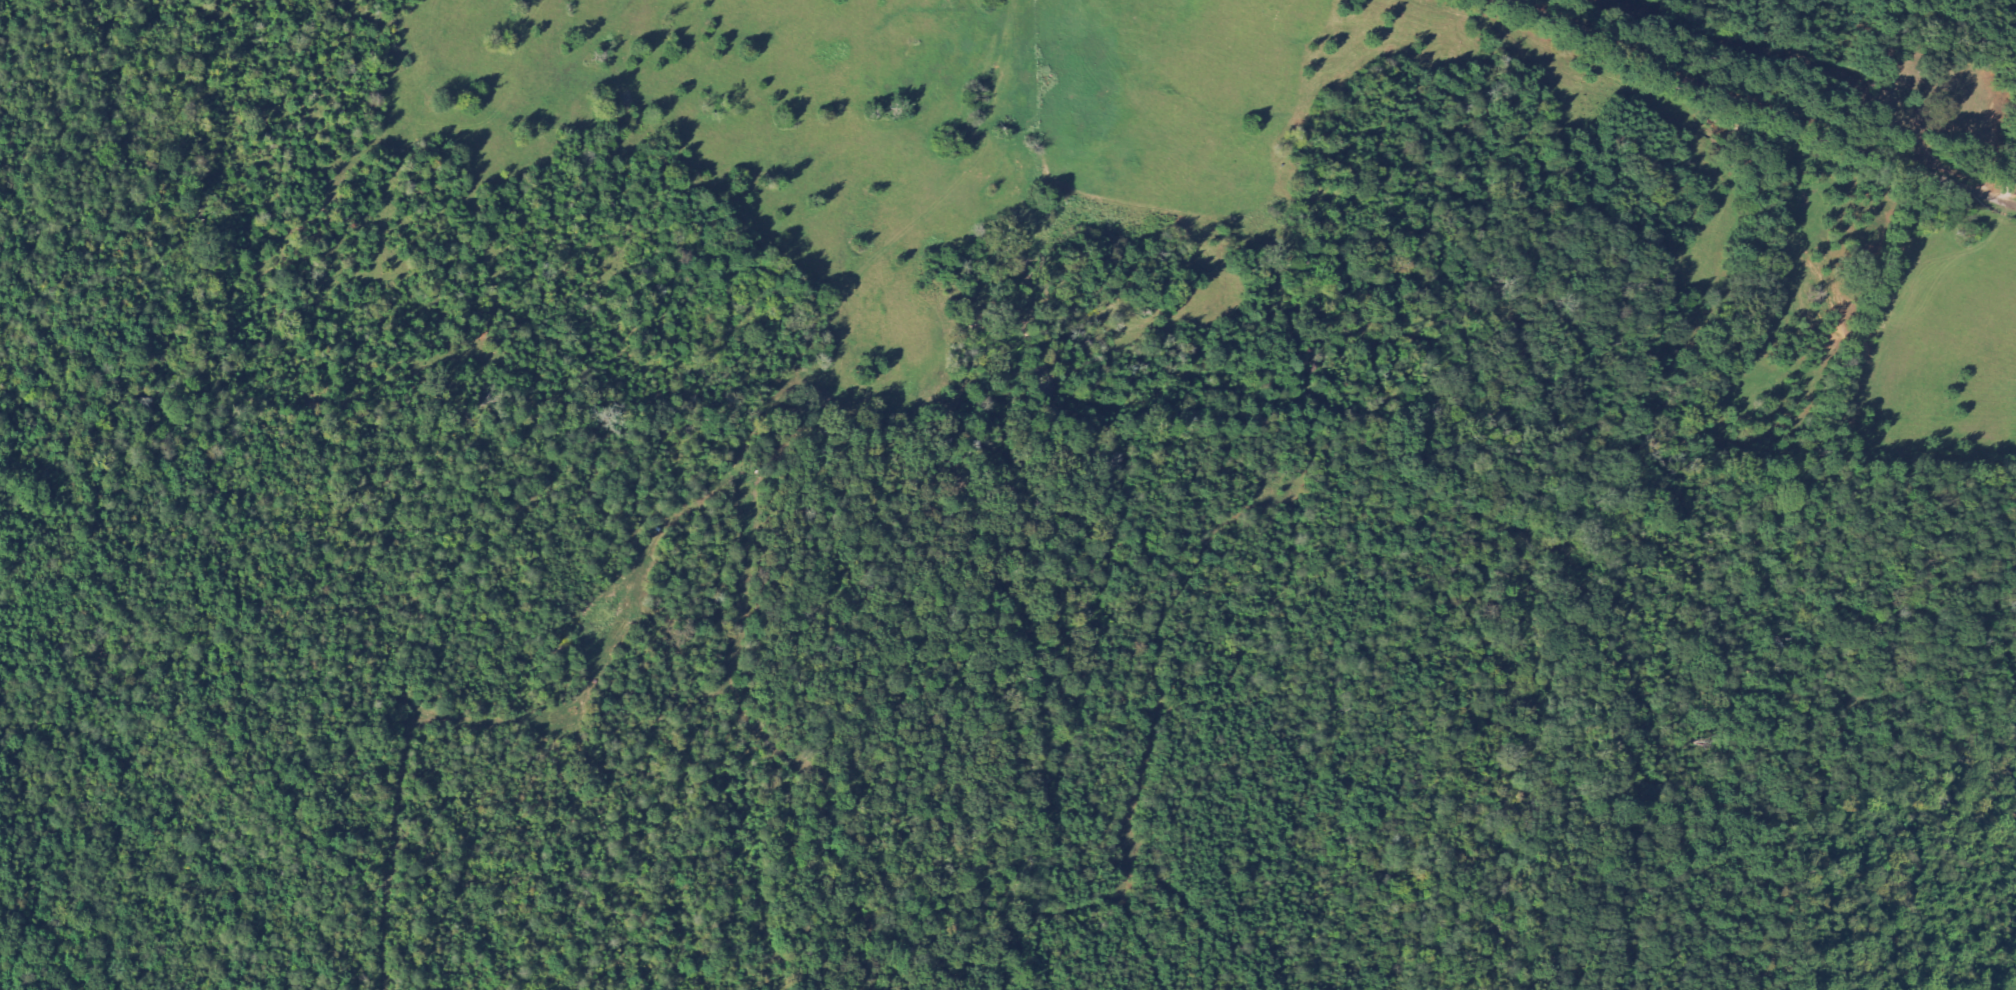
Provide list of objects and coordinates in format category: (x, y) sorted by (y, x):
road: (1712, 117)

